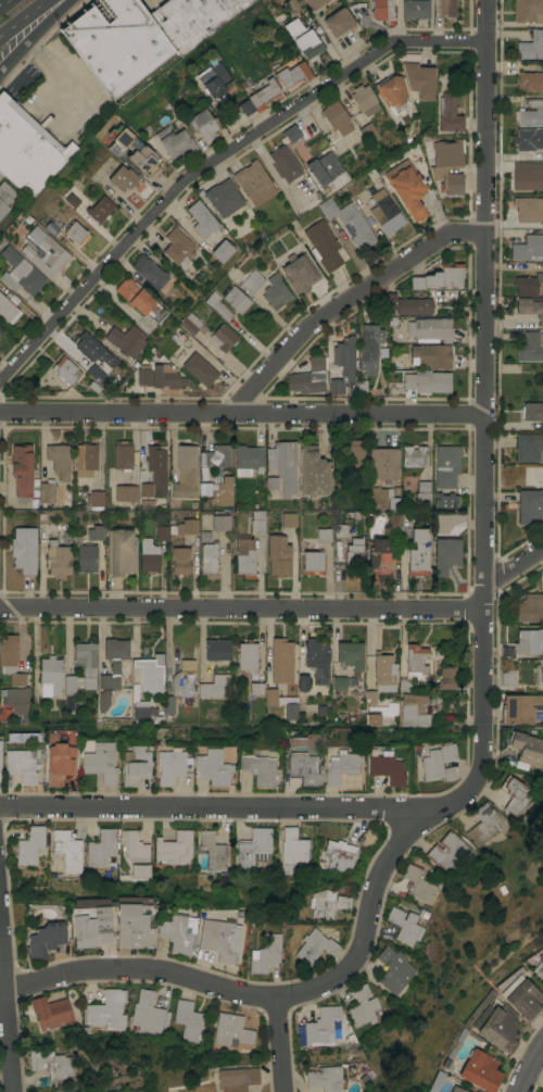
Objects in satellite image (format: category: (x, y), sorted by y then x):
road: (1, 1)
building: (313, 3)
building: (292, 8)
building: (445, 8)
building: (414, 9)
building: (380, 10)
building: (528, 11)
road: (26, 18)
building: (337, 21)
road: (485, 21)
road: (31, 34)
building: (141, 36)
building: (301, 38)
building: (531, 46)
road: (54, 68)
building: (291, 74)
building: (212, 78)
building: (418, 79)
building: (529, 81)
building: (390, 93)
building: (256, 97)
building: (362, 99)
building: (531, 112)
building: (447, 113)
building: (333, 117)
building: (202, 124)
building: (367, 131)
building: (287, 134)
building: (528, 139)
building: (173, 141)
building: (27, 149)
building: (132, 151)
building: (447, 152)
road: (213, 160)
building: (281, 163)
building: (323, 168)
building: (527, 175)
building: (122, 178)
building: (252, 181)
building: (451, 183)
building: (407, 190)
building: (4, 197)
building: (222, 197)
building: (99, 209)
building: (529, 209)
building: (384, 212)
building: (199, 218)
building: (349, 223)
building: (75, 233)
building: (323, 244)
building: (176, 246)
building: (527, 248)
building: (220, 250)
building: (46, 255)
building: (148, 271)
building: (20, 272)
building: (299, 274)
building: (439, 275)
building: (251, 281)
building: (529, 284)
building: (275, 292)
building: (235, 298)
building: (139, 299)
road: (348, 300)
building: (217, 305)
building: (407, 305)
building: (531, 307)
building: (8, 310)
building: (189, 323)
building: (429, 329)
building: (223, 337)
building: (126, 340)
building: (369, 346)
building: (530, 347)
building: (93, 349)
building: (431, 355)
building: (344, 356)
building: (396, 362)
building: (315, 363)
building: (65, 369)
building: (199, 369)
building: (159, 376)
building: (427, 381)
building: (302, 382)
building: (334, 386)
building: (532, 411)
road: (242, 413)
road: (484, 438)
building: (529, 447)
building: (123, 455)
building: (413, 455)
building: (217, 456)
building: (354, 456)
building: (154, 457)
building: (58, 459)
building: (85, 460)
building: (248, 460)
building: (382, 462)
building: (445, 465)
building: (281, 466)
building: (21, 469)
building: (185, 472)
building: (314, 472)
building: (146, 490)
building: (217, 491)
building: (125, 492)
building: (422, 492)
building: (46, 493)
building: (383, 498)
building: (93, 500)
building: (445, 501)
building: (529, 504)
building: (288, 519)
building: (256, 520)
building: (219, 522)
building: (176, 528)
building: (340, 530)
building: (94, 532)
building: (323, 535)
building: (23, 549)
building: (121, 551)
building: (418, 552)
building: (354, 554)
building: (445, 554)
building: (84, 555)
building: (148, 555)
building: (278, 555)
building: (382, 555)
building: (244, 557)
building: (56, 558)
building: (209, 560)
building: (179, 561)
building: (312, 562)
road: (514, 567)
building: (529, 607)
road: (242, 608)
building: (527, 641)
building: (216, 649)
building: (350, 654)
building: (247, 655)
building: (416, 658)
building: (10, 660)
building: (317, 660)
building: (113, 661)
building: (281, 661)
building: (51, 673)
building: (150, 674)
building: (381, 677)
building: (184, 678)
building: (446, 678)
building: (507, 678)
building: (541, 678)
building: (79, 682)
building: (301, 682)
building: (339, 682)
building: (214, 687)
building: (256, 689)
building: (270, 696)
building: (103, 700)
building: (20, 703)
building: (168, 704)
building: (520, 707)
building: (413, 710)
building: (140, 714)
building: (379, 715)
building: (20, 737)
building: (527, 748)
building: (302, 760)
building: (100, 762)
building: (439, 762)
building: (59, 763)
building: (20, 765)
building: (134, 765)
building: (339, 766)
building: (211, 767)
building: (171, 768)
building: (257, 768)
building: (386, 768)
building: (516, 794)
road: (217, 808)
building: (483, 825)
building: (366, 838)
building: (29, 844)
building: (100, 848)
building: (174, 848)
building: (252, 848)
building: (67, 851)
building: (213, 851)
building: (291, 851)
building: (447, 852)
building: (339, 854)
building: (136, 855)
building: (419, 884)
building: (328, 903)
building: (405, 924)
building: (132, 927)
building: (91, 928)
building: (177, 932)
building: (46, 939)
building: (216, 939)
building: (314, 945)
building: (264, 953)
building: (393, 969)
building: (541, 971)
building: (522, 997)
road: (267, 999)
building: (363, 1005)
road: (7, 1008)
building: (106, 1009)
building: (50, 1012)
building: (147, 1013)
building: (188, 1020)
building: (319, 1027)
building: (496, 1028)
building: (230, 1030)
road: (280, 1046)
road: (523, 1062)
building: (51, 1063)
building: (480, 1070)
building: (325, 1078)
building: (236, 1079)
building: (456, 1089)

